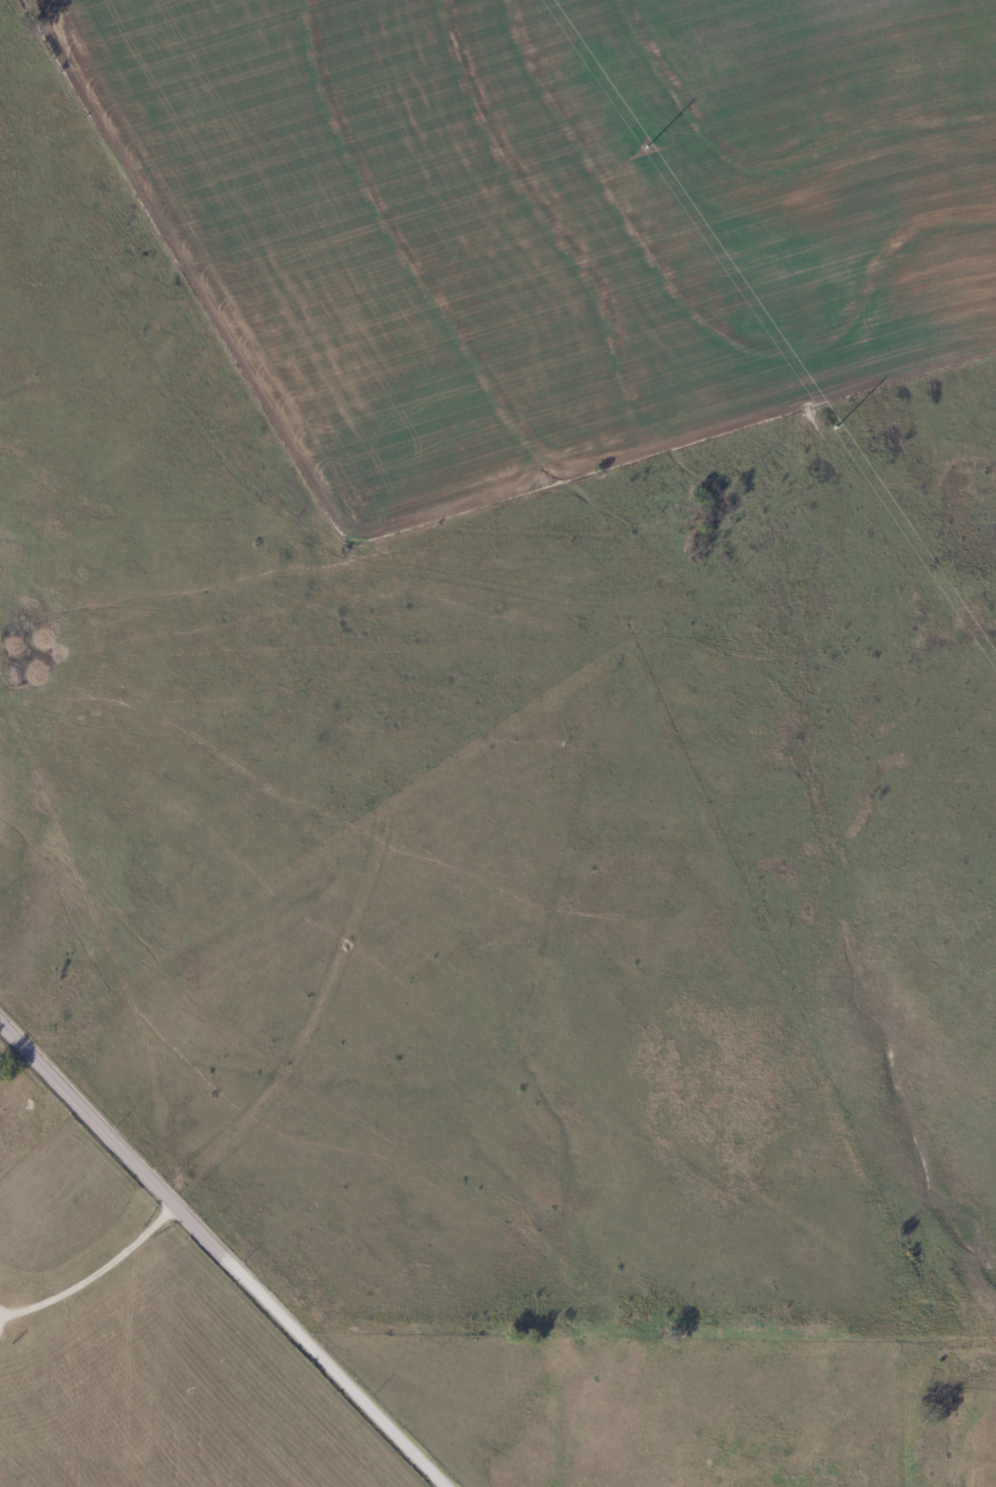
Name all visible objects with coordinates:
road: (227, 1252)
road: (97, 1272)

